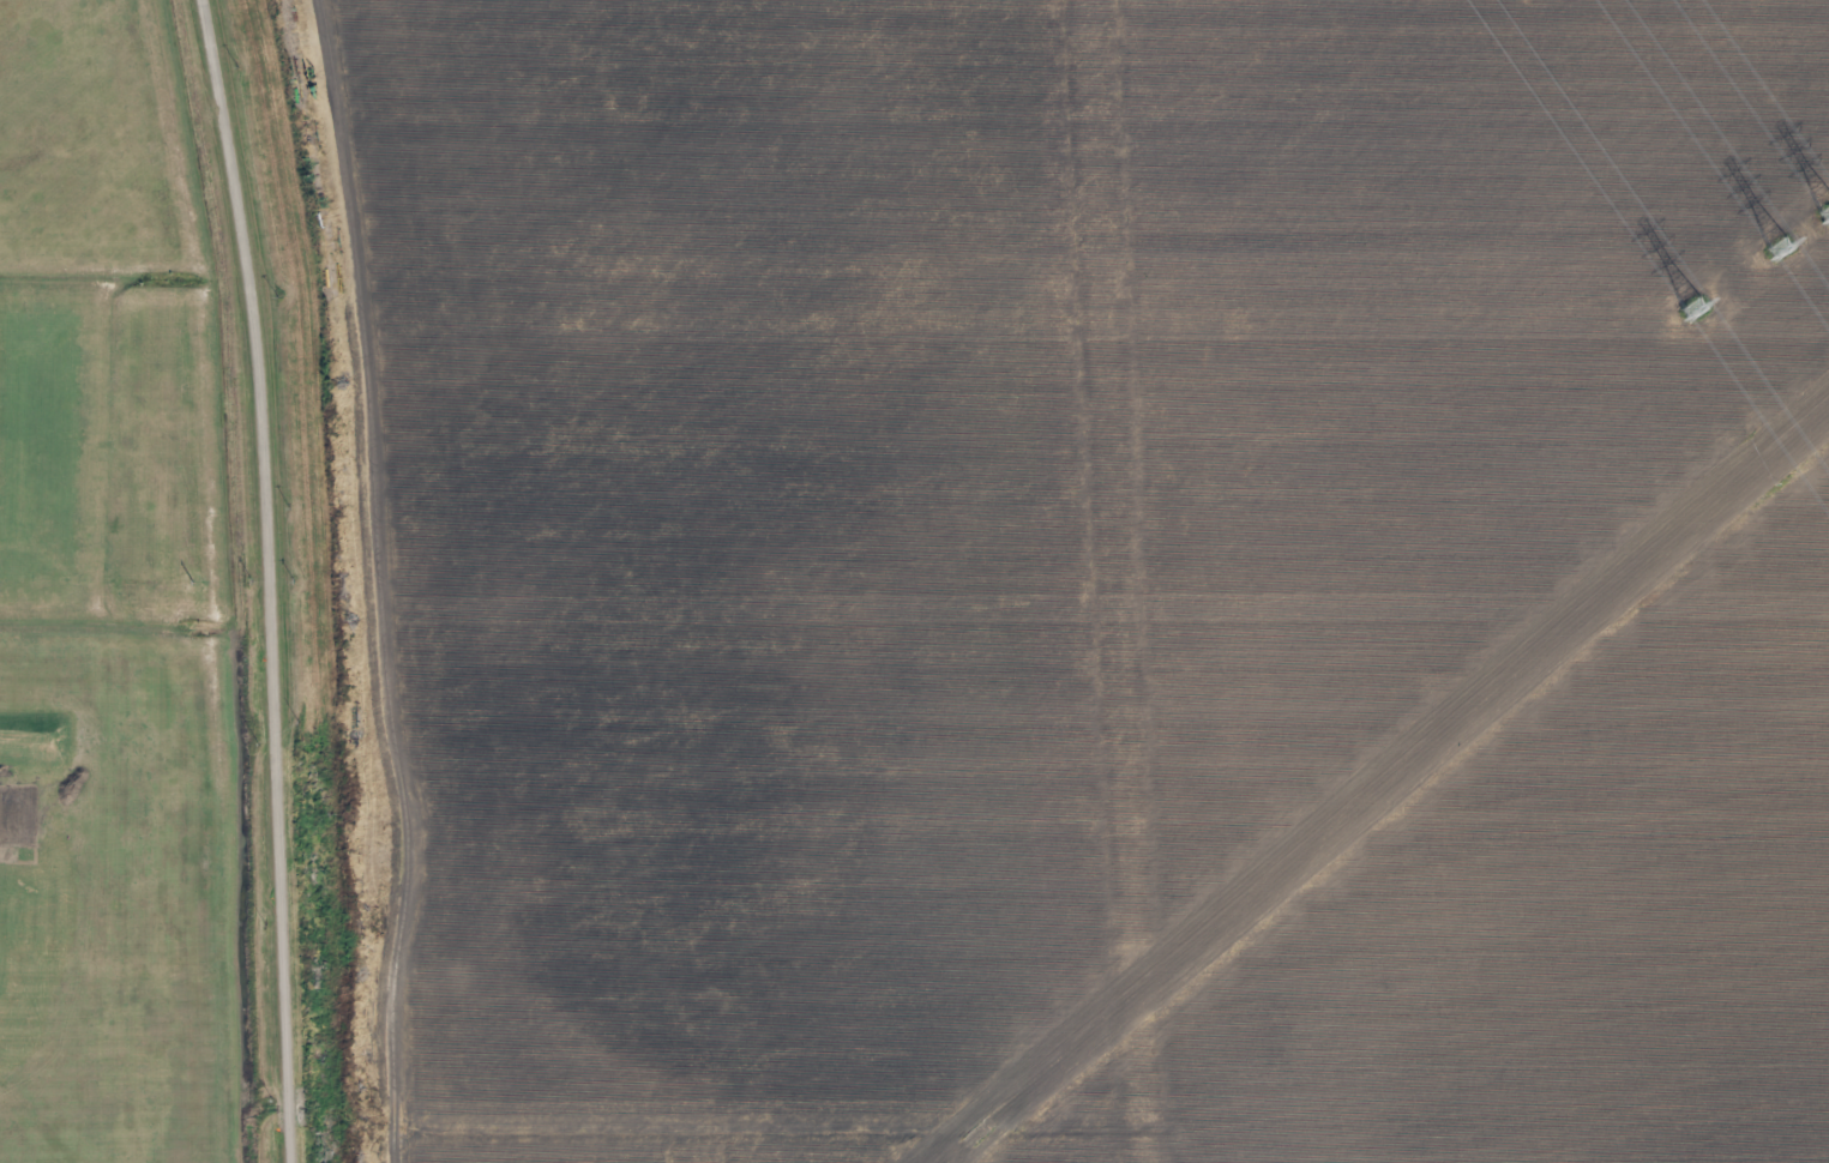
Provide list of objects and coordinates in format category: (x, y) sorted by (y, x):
power tower: (1783, 251)
power tower: (1696, 313)
road: (278, 579)

